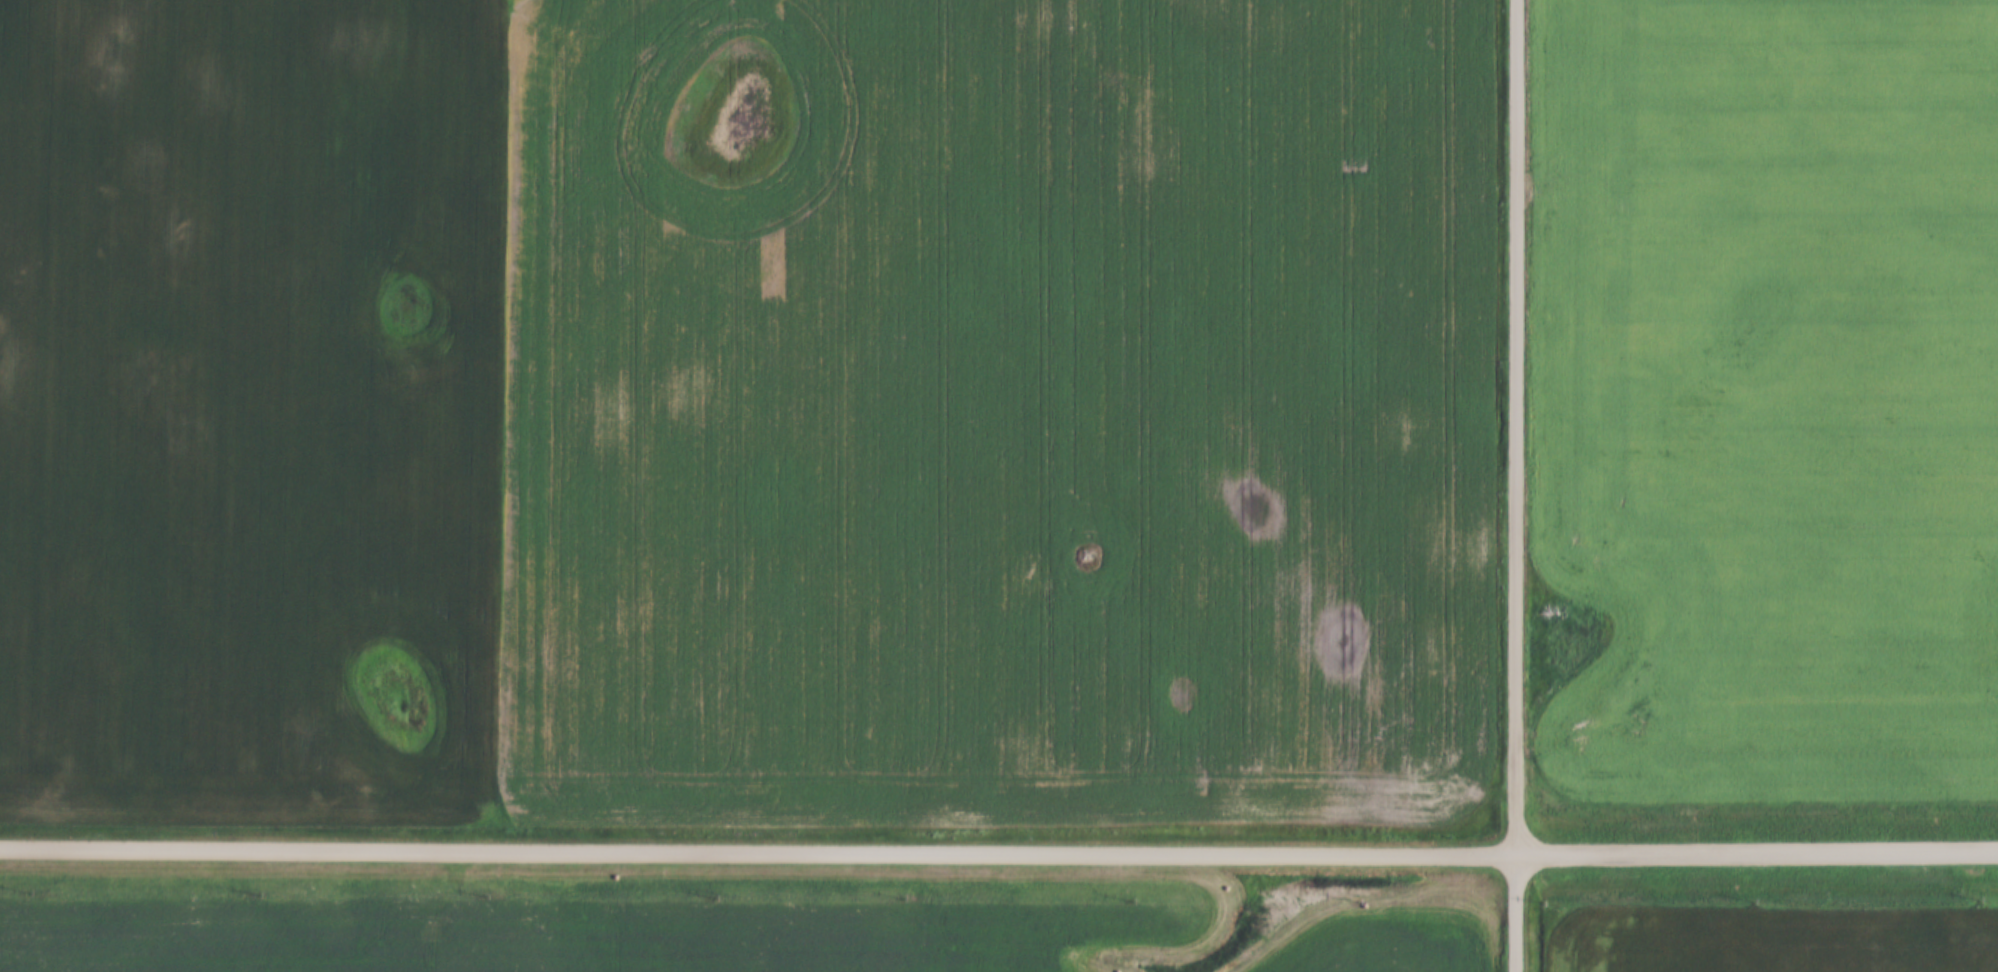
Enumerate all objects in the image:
road: (1519, 486)
road: (759, 851)
road: (1757, 851)

